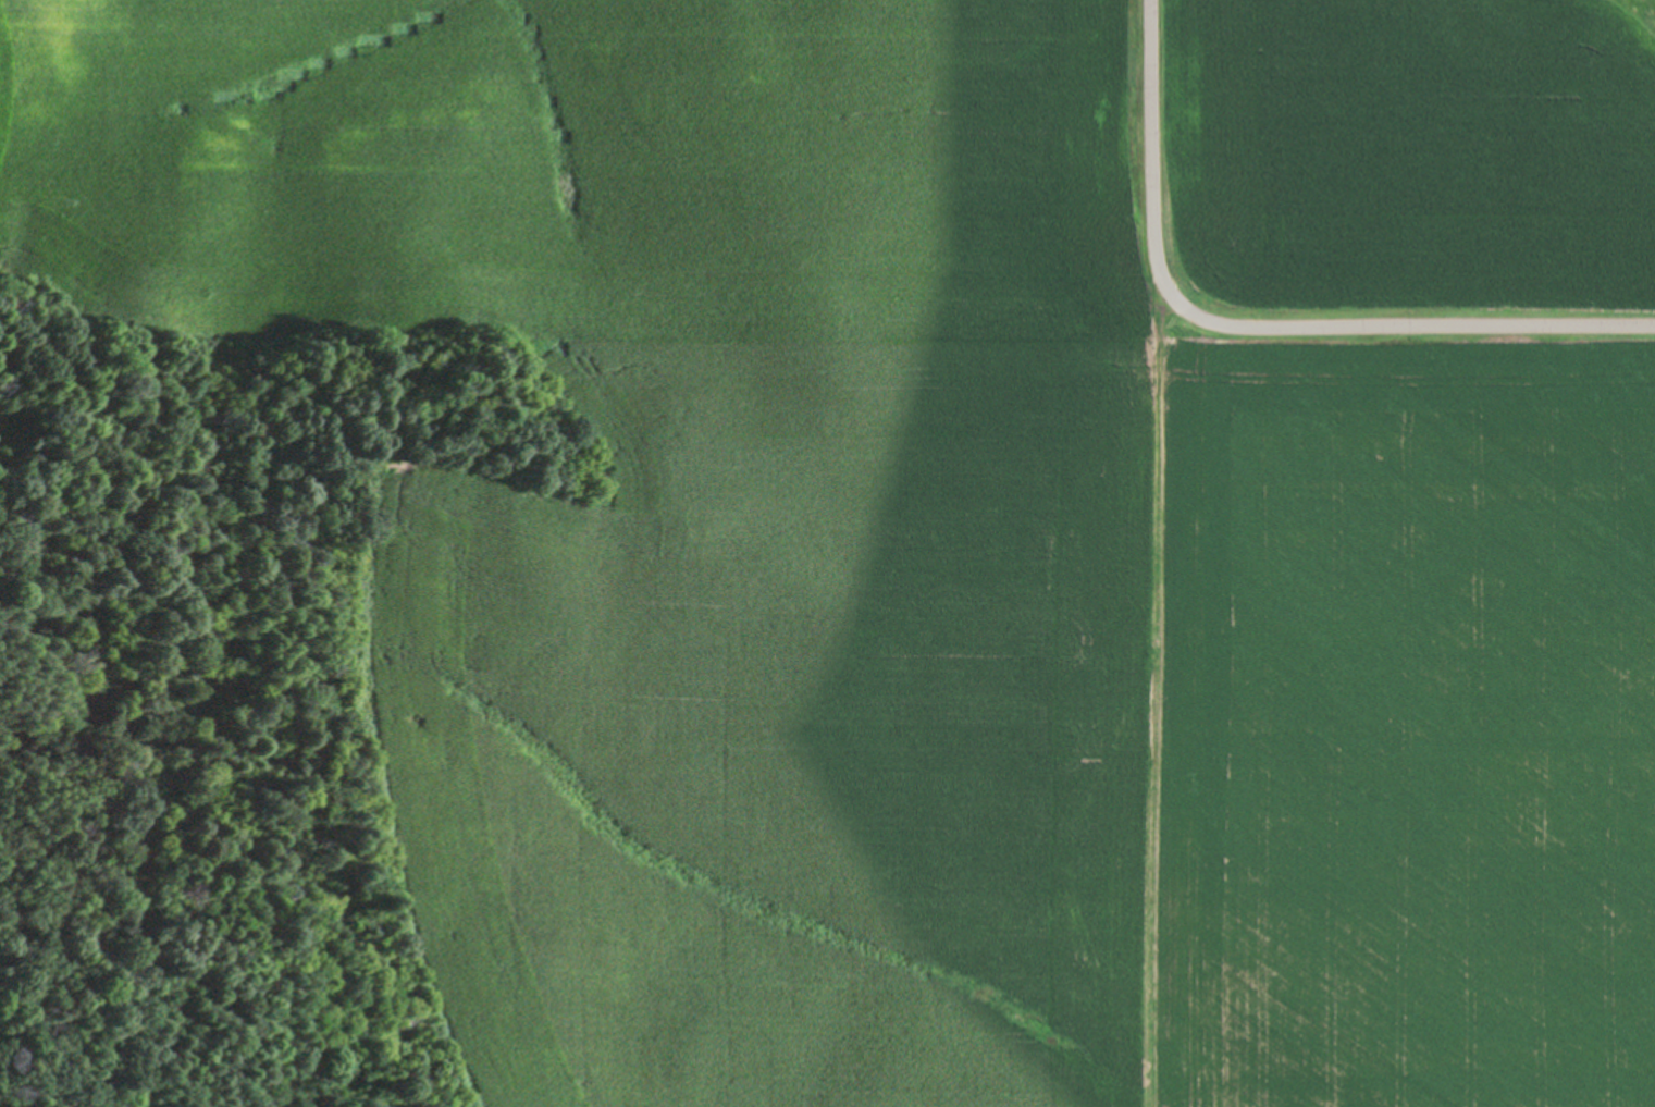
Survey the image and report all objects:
road: (1259, 325)

